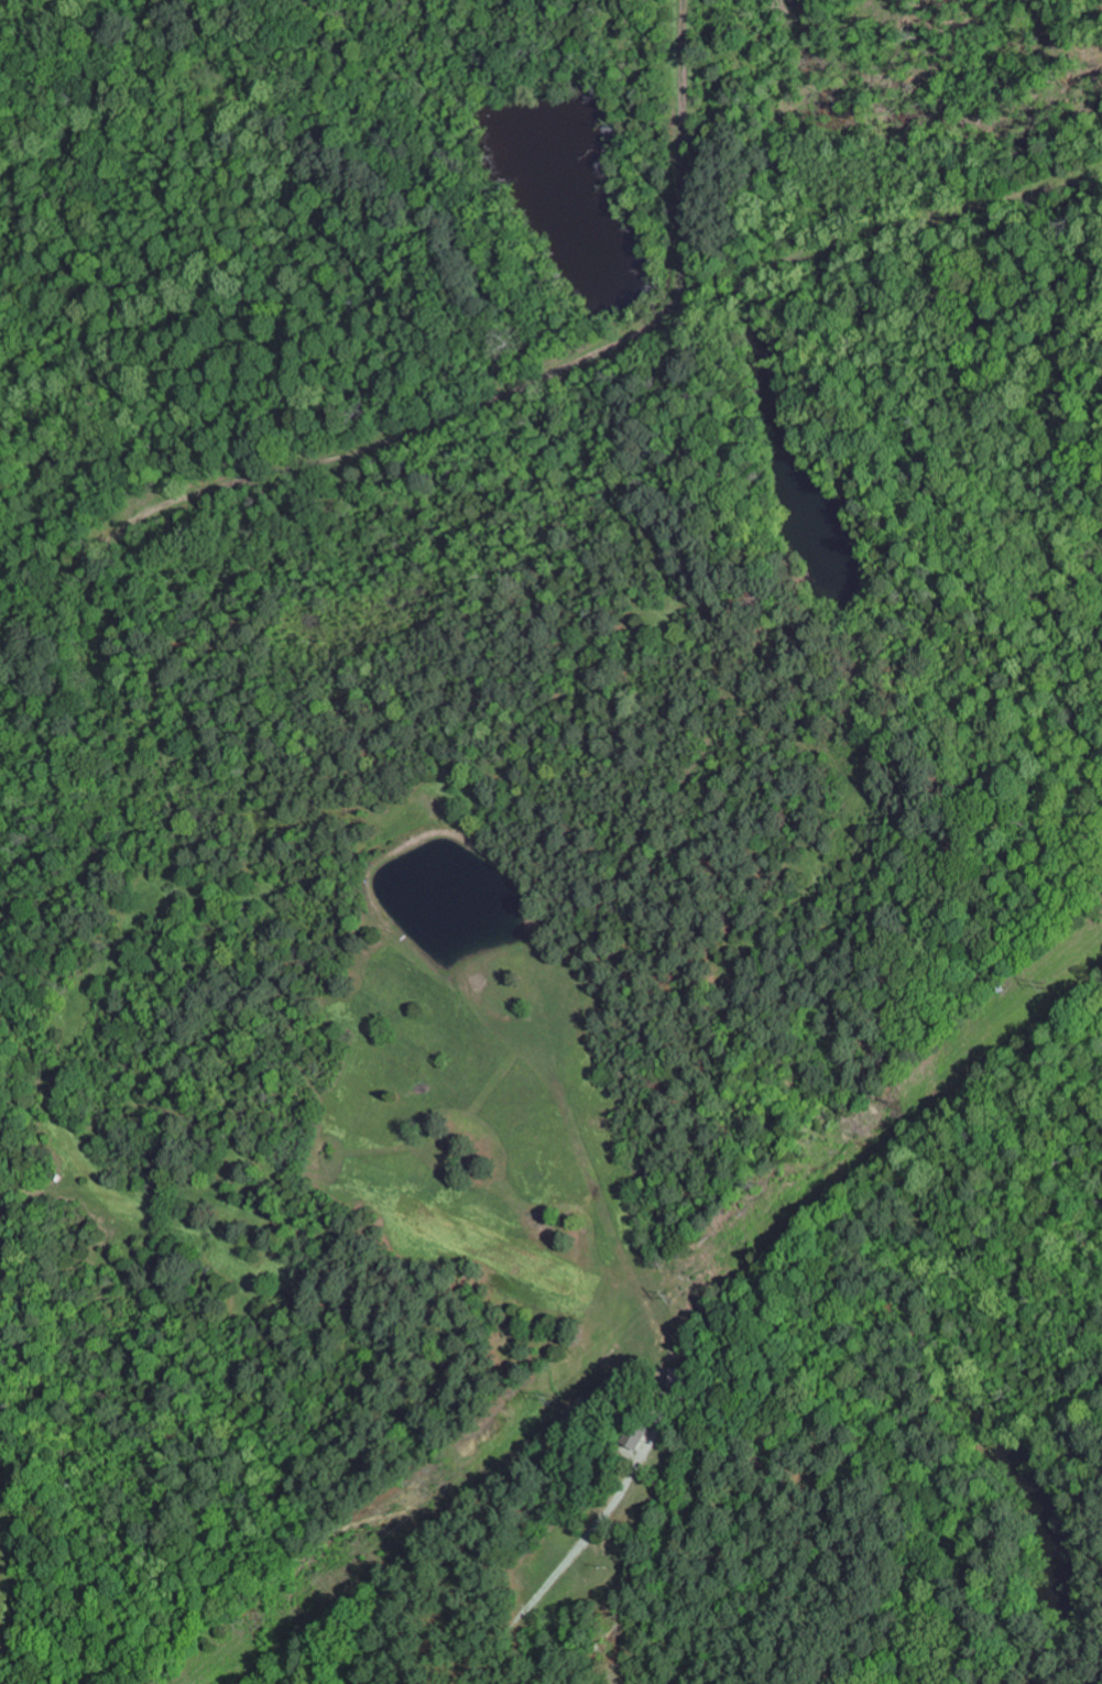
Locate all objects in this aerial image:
road: (770, 1612)
road: (1012, 1636)

